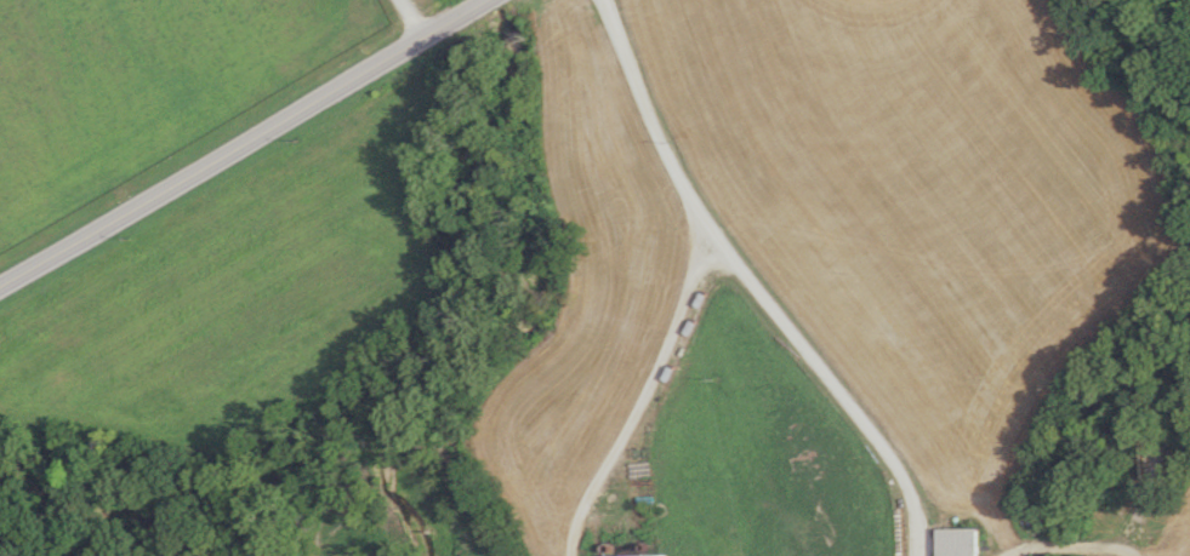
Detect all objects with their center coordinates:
road: (410, 18)
road: (243, 143)
road: (748, 285)
road: (644, 397)
building: (958, 541)
road: (1070, 549)
building: (662, 555)

